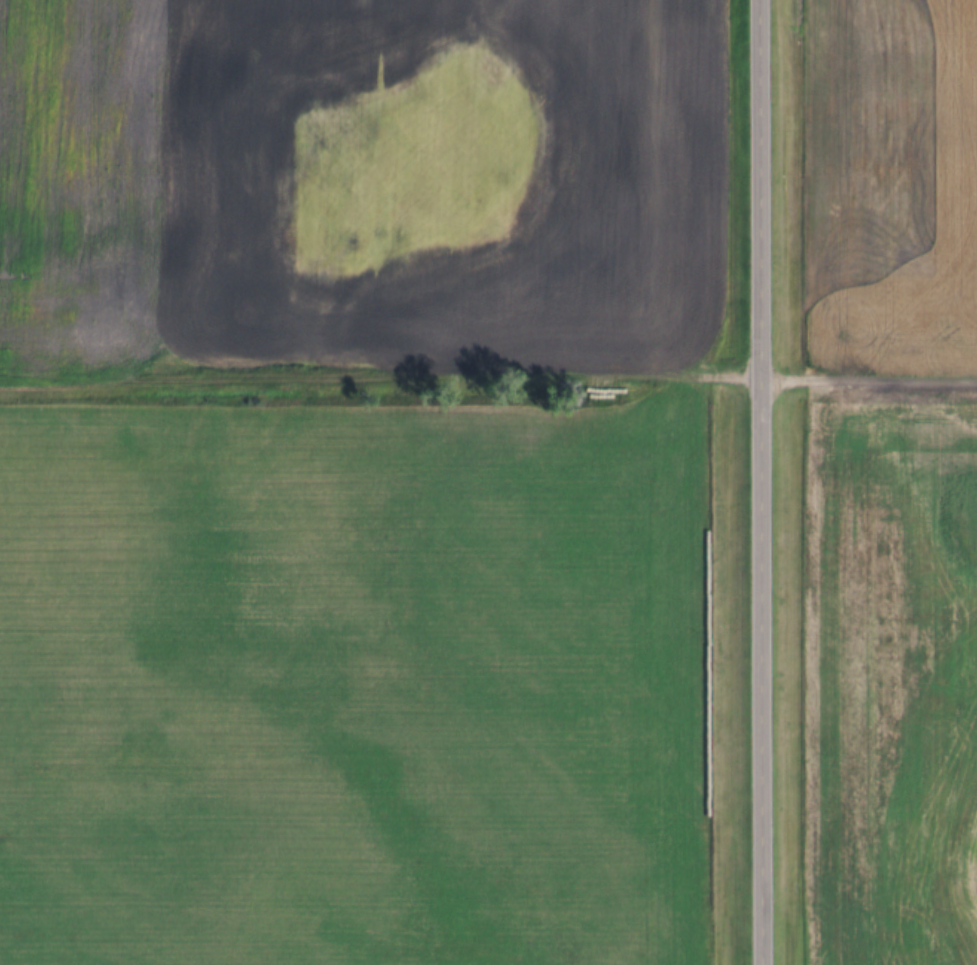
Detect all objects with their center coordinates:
road: (488, 373)
road: (759, 482)

